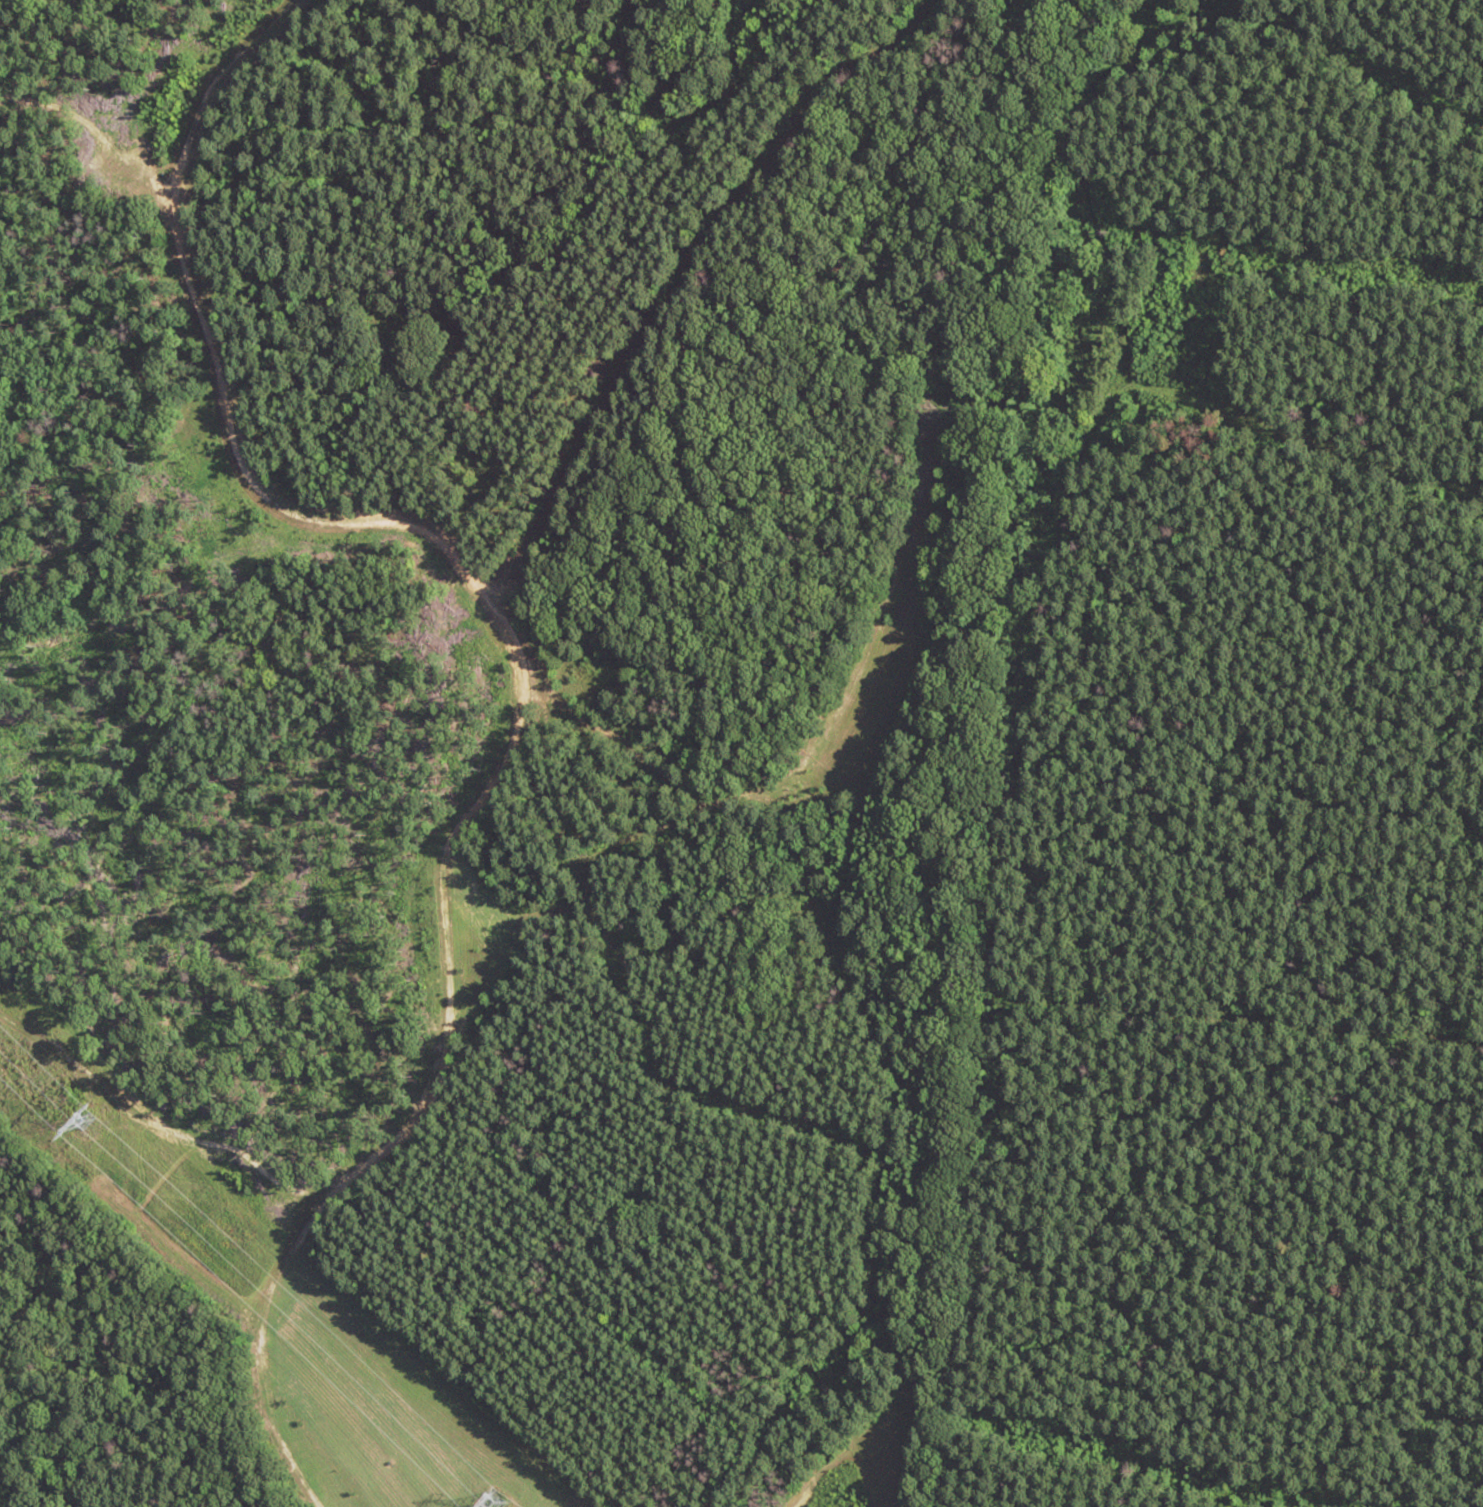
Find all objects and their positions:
power tower: (75, 1125)
power tower: (490, 1505)

